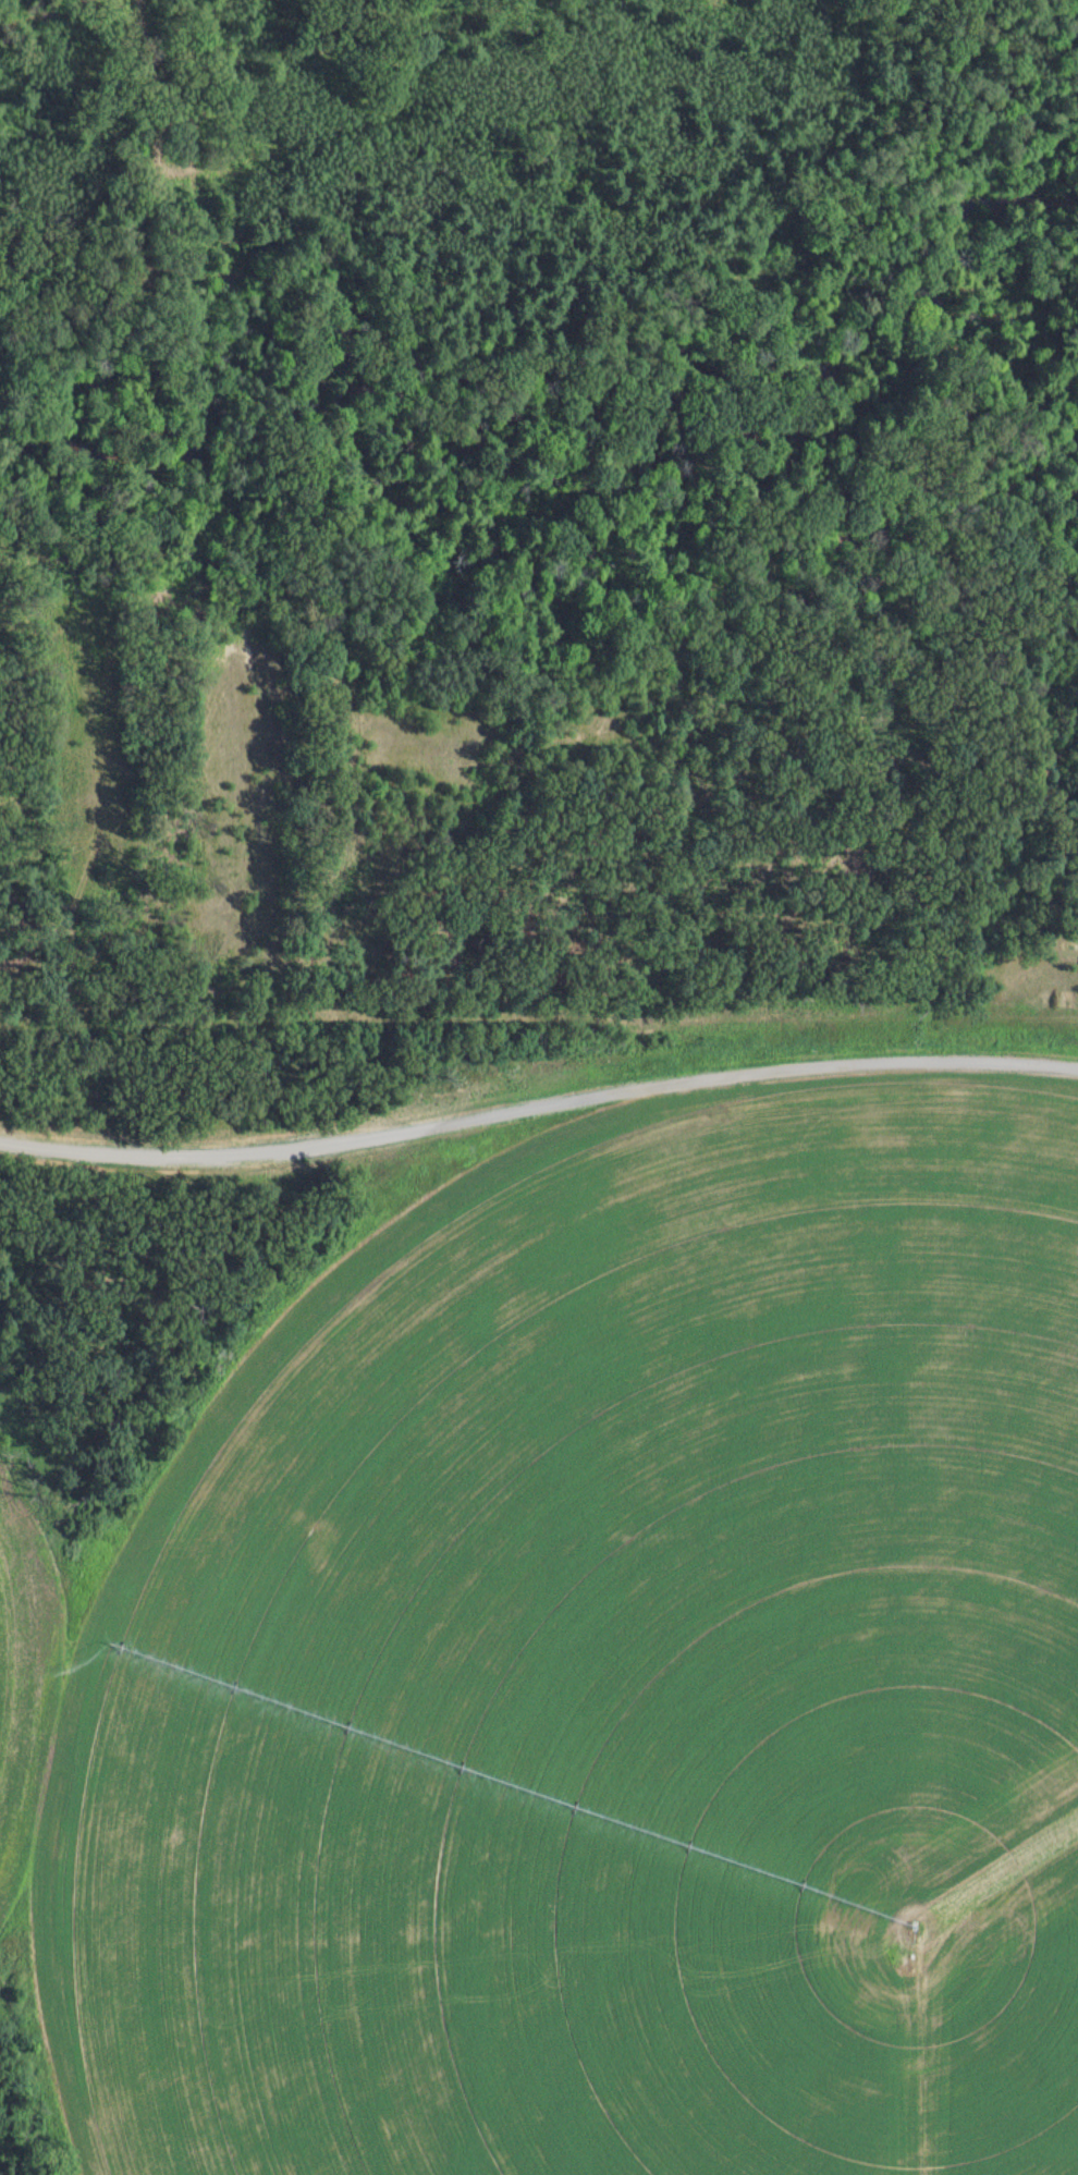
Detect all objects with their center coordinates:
road: (36, 12)
road: (157, 155)
road: (437, 376)
road: (138, 673)
road: (539, 1025)
wastewater plant: (538, 1602)

